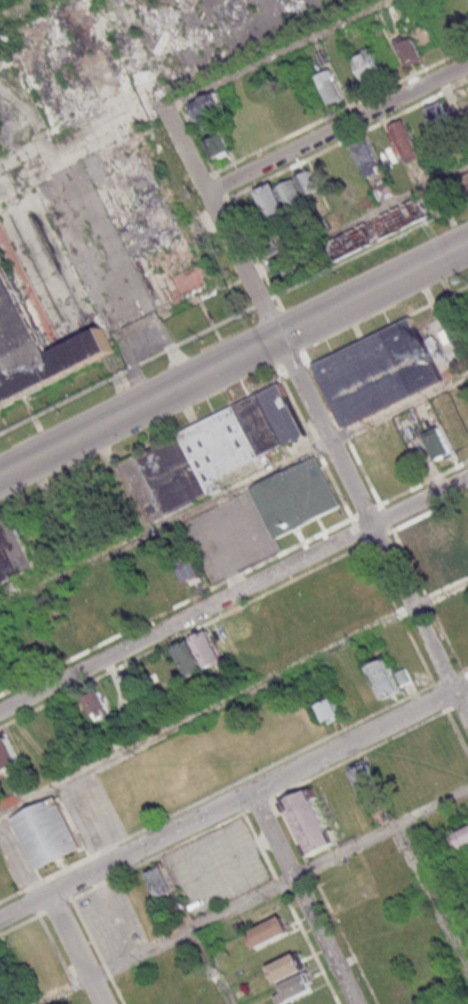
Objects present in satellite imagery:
building: (407, 49)
road: (276, 55)
building: (367, 65)
building: (330, 87)
building: (207, 107)
building: (439, 117)
road: (336, 126)
building: (404, 140)
building: (217, 145)
building: (366, 156)
building: (307, 181)
building: (466, 181)
building: (383, 190)
building: (292, 193)
building: (272, 201)
building: (96, 203)
road: (357, 220)
building: (378, 229)
road: (370, 250)
road: (262, 304)
building: (34, 341)
road: (233, 358)
road: (126, 374)
building: (379, 374)
road: (315, 415)
building: (438, 444)
building: (215, 456)
road: (234, 490)
building: (297, 497)
building: (13, 549)
building: (190, 571)
road: (233, 597)
road: (251, 600)
building: (198, 653)
building: (384, 678)
building: (0, 682)
building: (130, 682)
road: (233, 696)
building: (96, 704)
building: (328, 707)
road: (457, 732)
building: (7, 754)
road: (356, 754)
building: (370, 789)
road: (216, 791)
road: (233, 800)
road: (258, 804)
building: (310, 821)
road: (86, 823)
road: (290, 829)
building: (45, 832)
building: (461, 838)
road: (176, 845)
parking lot: (14, 859)
road: (188, 860)
road: (310, 868)
road: (19, 872)
building: (162, 881)
road: (97, 884)
road: (255, 895)
road: (432, 895)
road: (304, 897)
road: (108, 918)
road: (81, 919)
parking lot: (111, 919)
road: (44, 928)
building: (269, 931)
road: (345, 939)
road: (78, 949)
road: (211, 965)
building: (1, 967)
building: (287, 967)
road: (107, 970)
road: (76, 986)
building: (296, 987)
road: (117, 991)
road: (83, 998)

